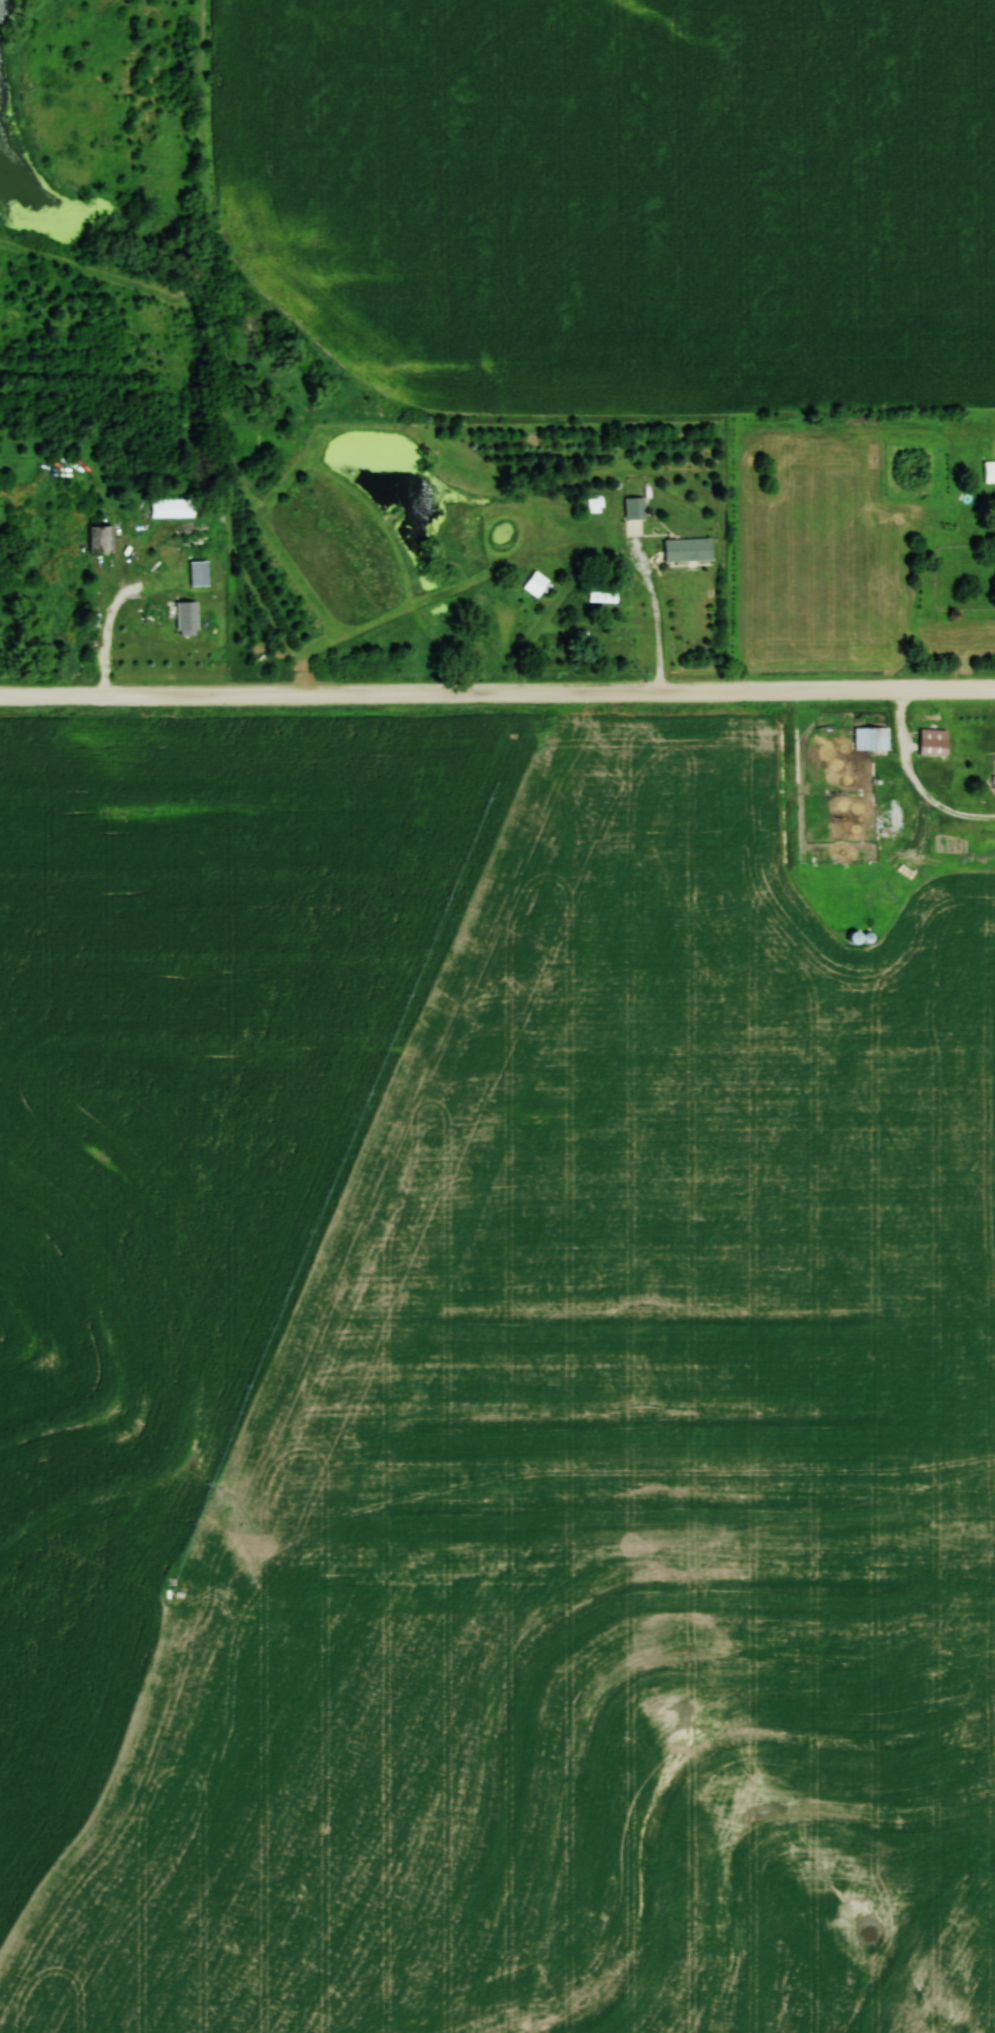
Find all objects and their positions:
building: (635, 508)
building: (102, 539)
building: (197, 540)
building: (688, 550)
building: (46, 562)
building: (604, 597)
building: (189, 618)
road: (497, 691)
building: (872, 738)
building: (934, 742)

